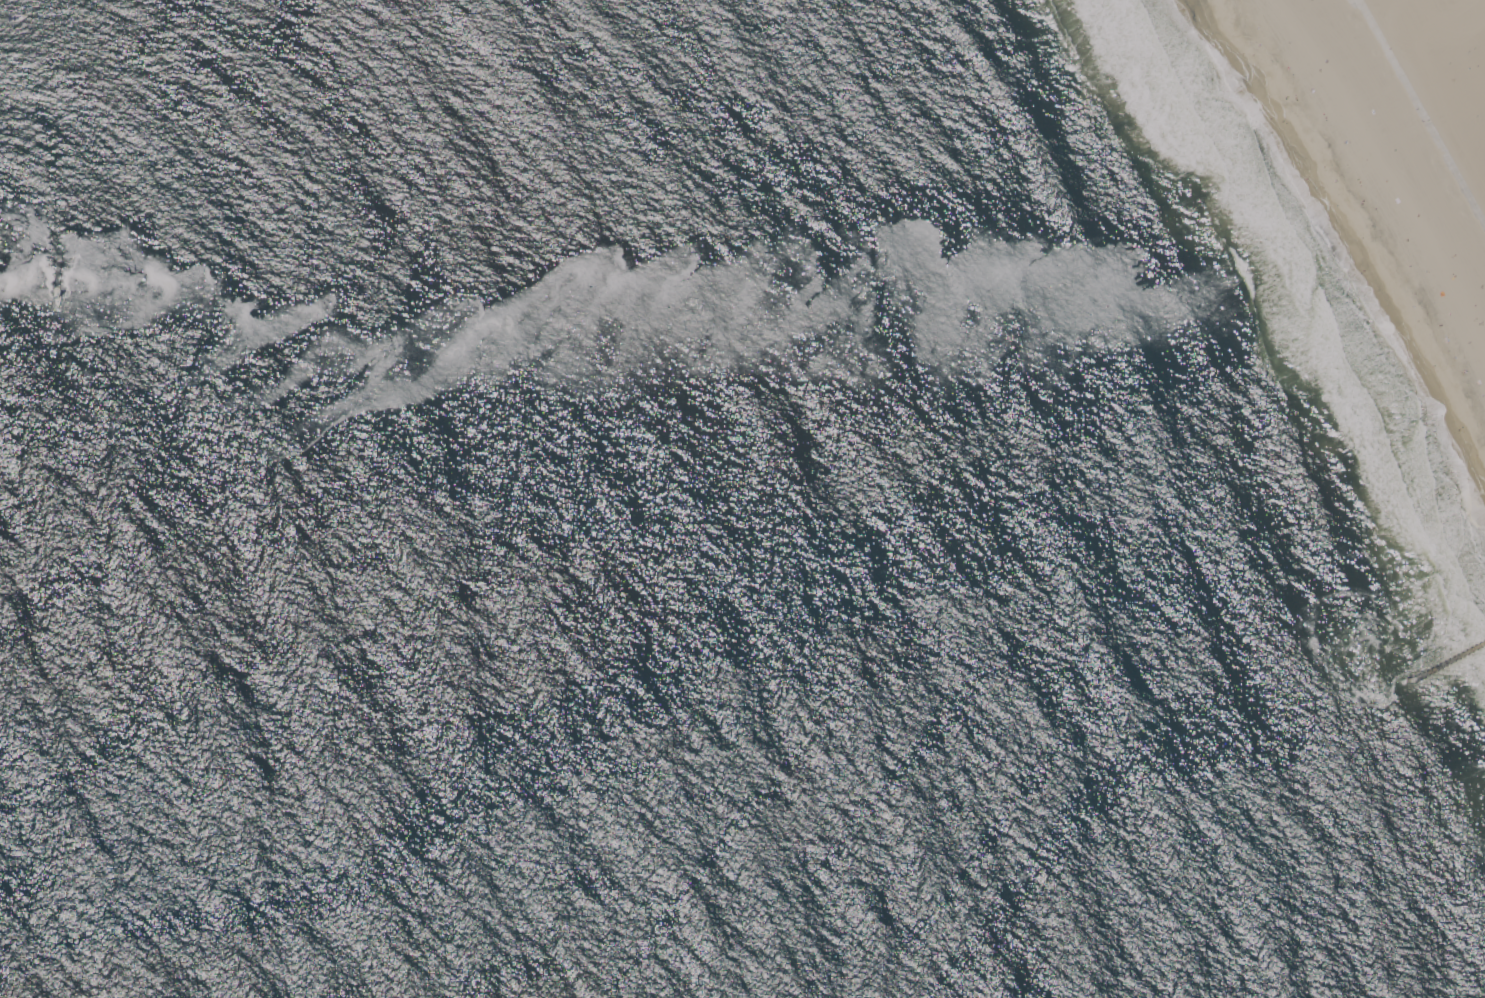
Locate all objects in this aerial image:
park: (1468, 58)
road: (1421, 113)

